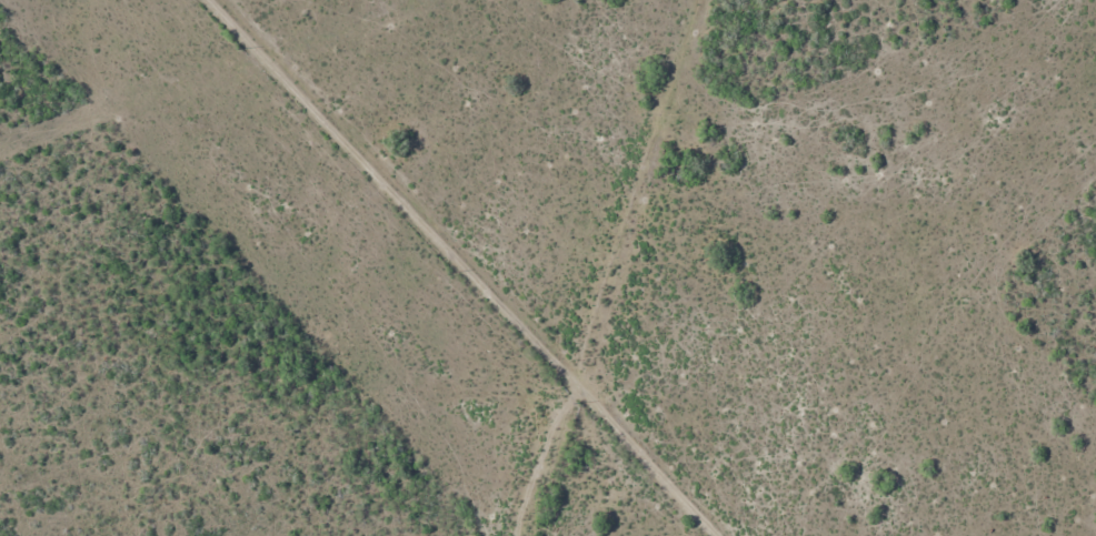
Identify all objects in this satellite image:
road: (434, 253)
road: (656, 484)

